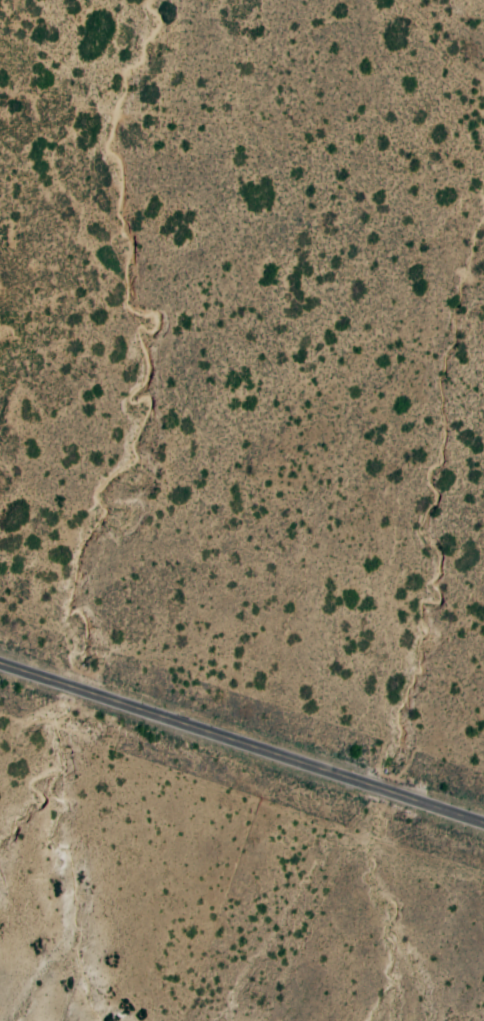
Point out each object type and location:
road: (242, 740)

